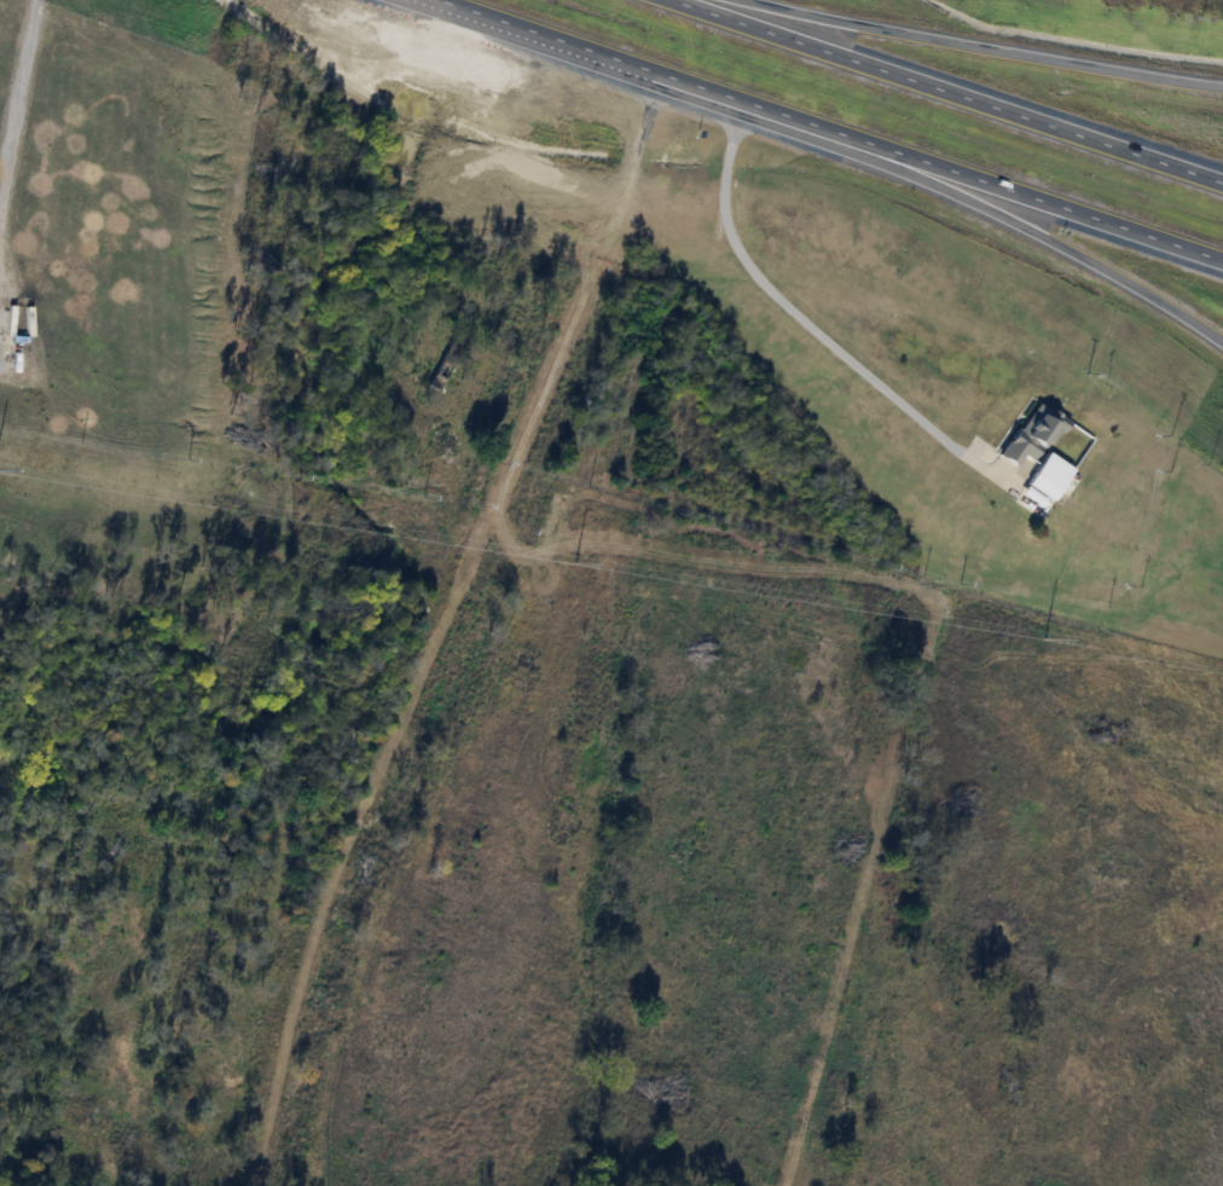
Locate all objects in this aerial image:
road: (991, 45)
road: (644, 62)
road: (968, 87)
road: (1027, 191)
road: (1032, 225)
road: (796, 313)
building: (446, 365)
building: (1032, 434)
building: (1049, 475)
power tower: (575, 561)
railway: (462, 588)
power tower: (1044, 638)

